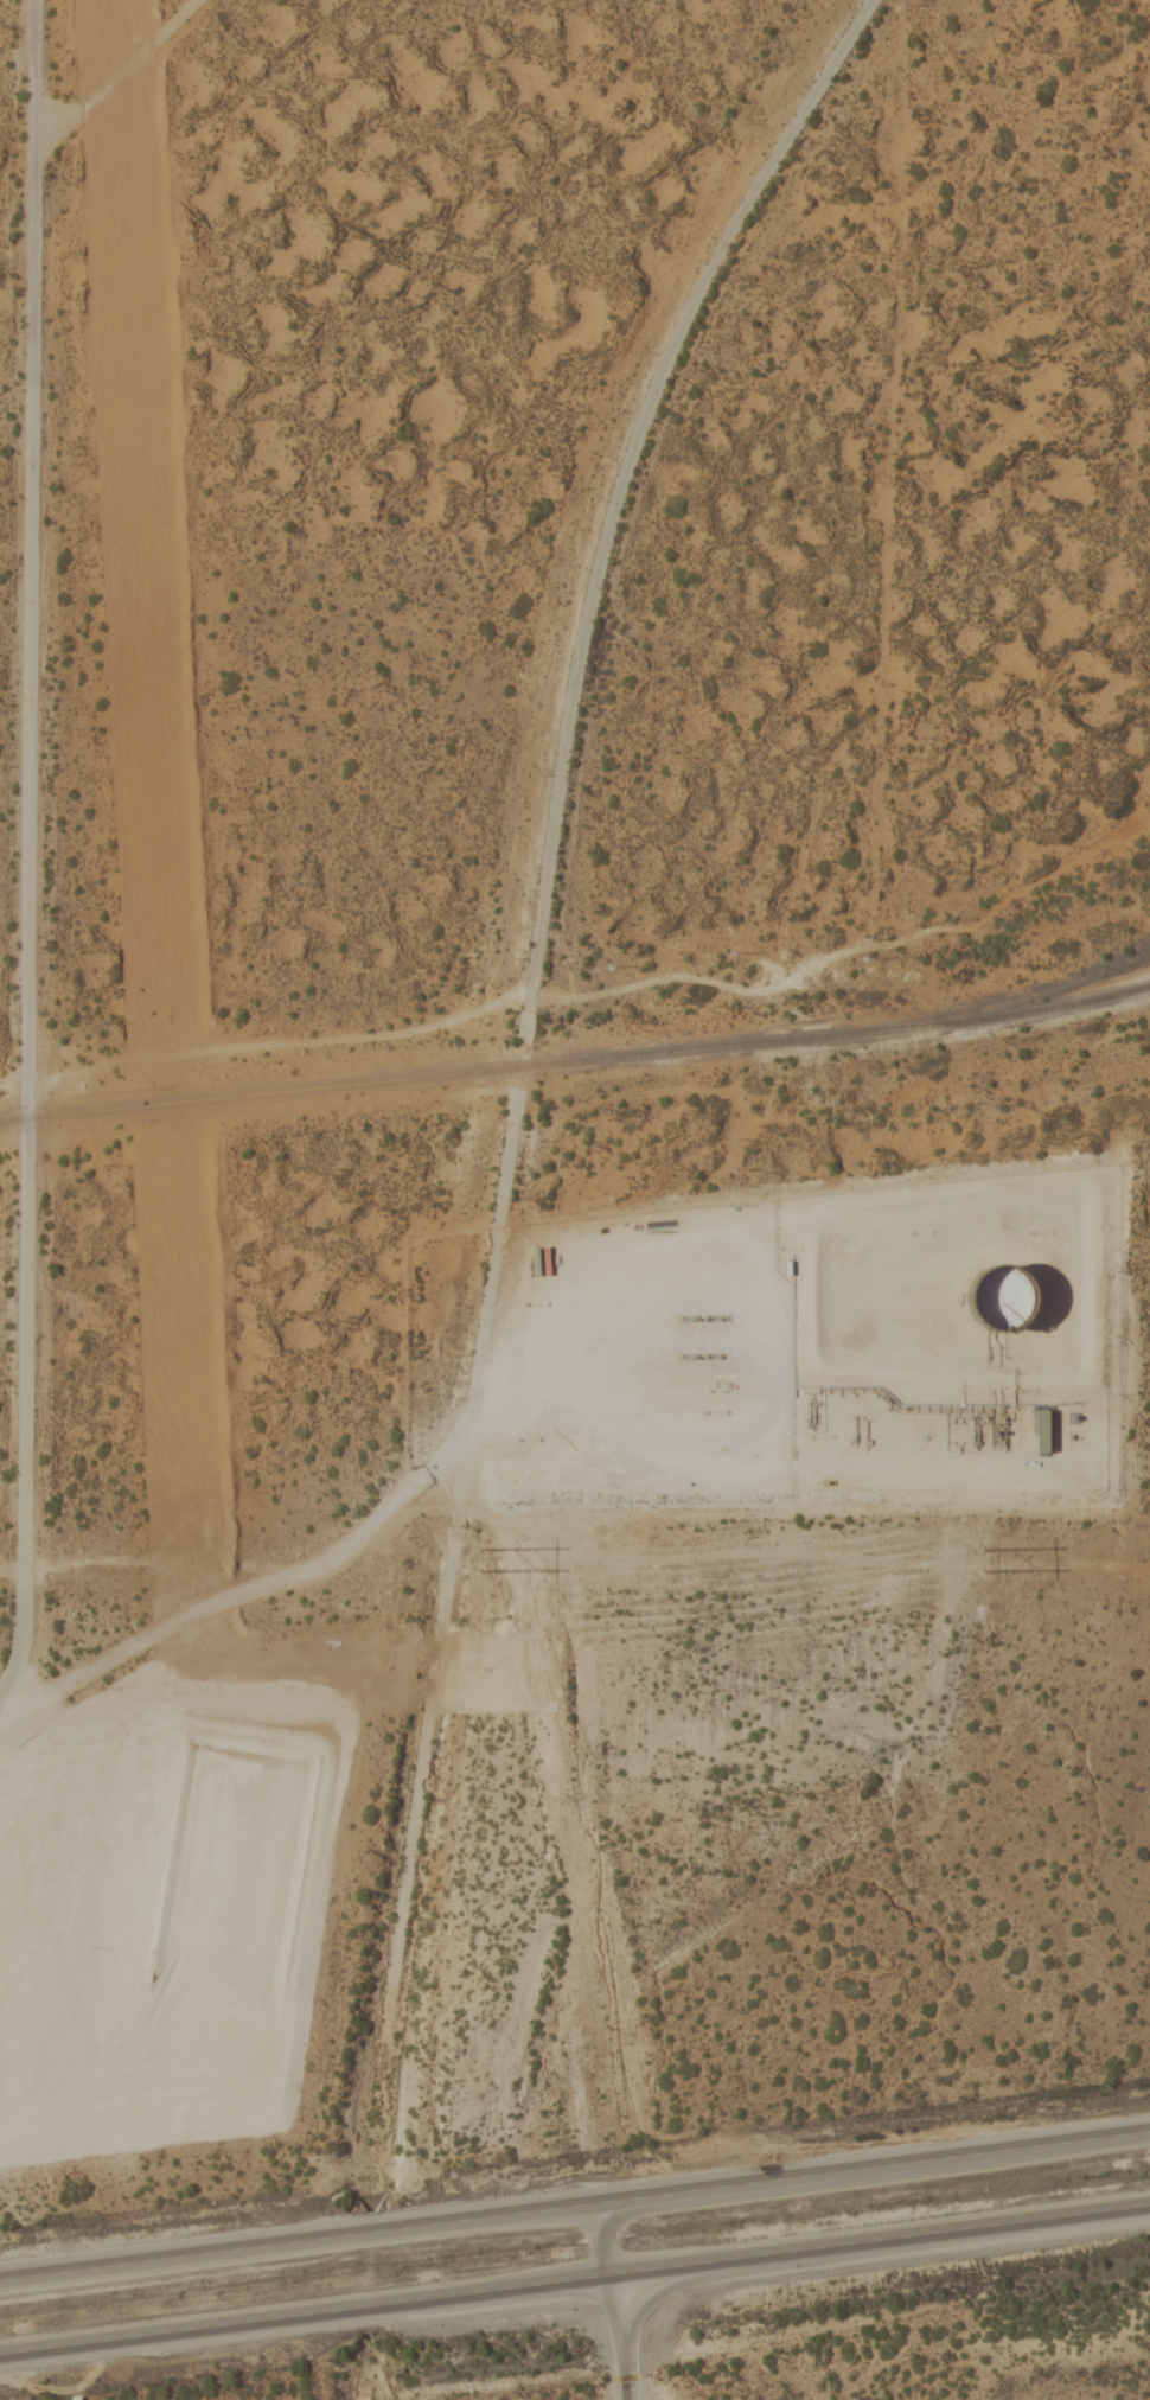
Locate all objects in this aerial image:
road: (121, 74)
road: (33, 855)
railway: (1020, 995)
railway: (576, 1060)
road: (517, 1073)
power tower: (477, 1560)
power tower: (985, 1563)
road: (575, 2204)
road: (575, 2277)
road: (612, 2300)
road: (362, 2364)

